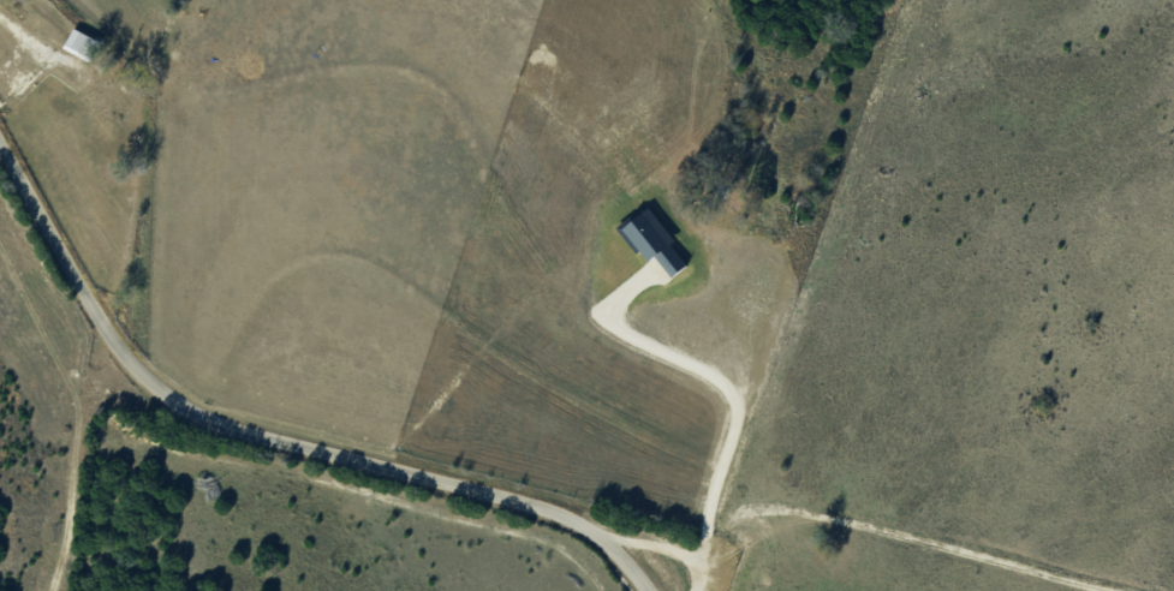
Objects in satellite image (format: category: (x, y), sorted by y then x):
building: (81, 42)
building: (103, 105)
road: (274, 434)

